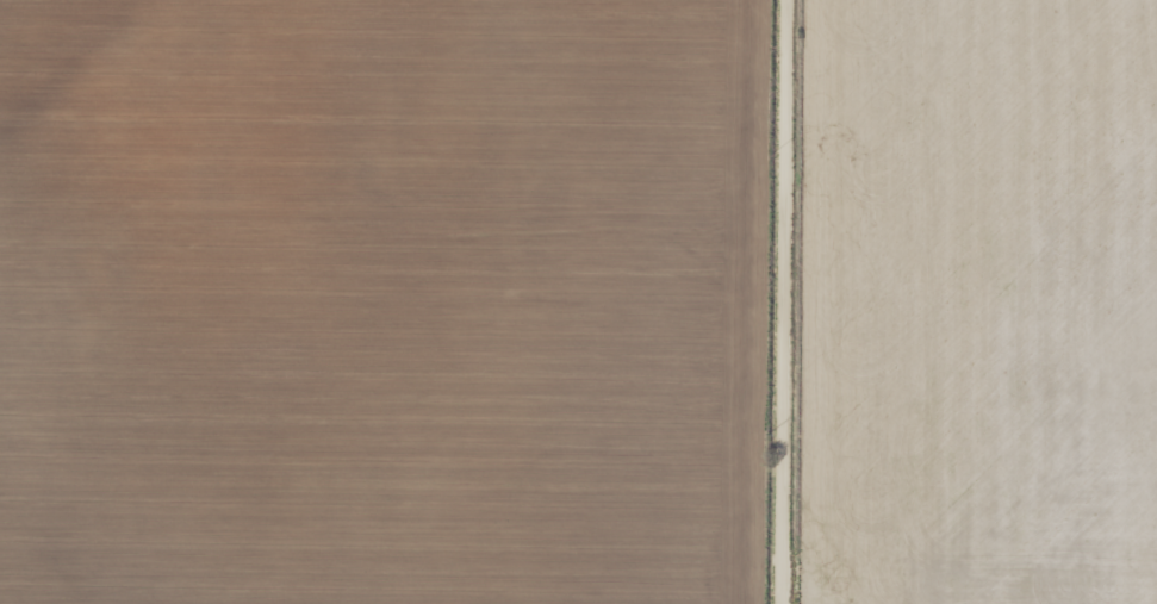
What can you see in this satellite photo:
road: (790, 301)

